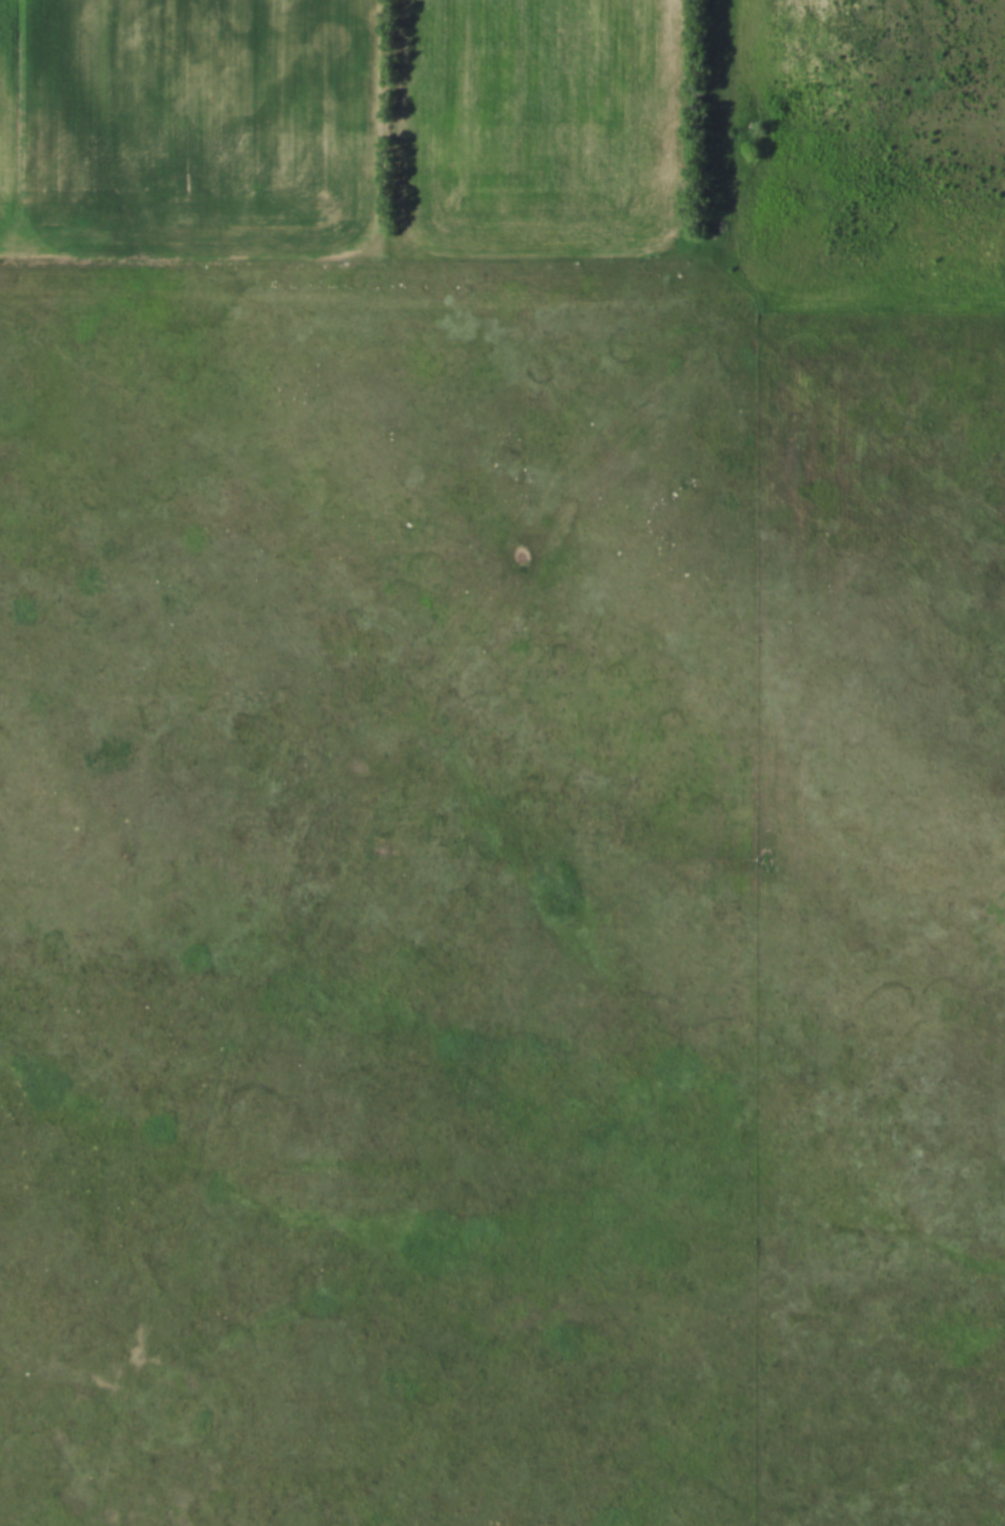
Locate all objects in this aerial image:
road: (718, 129)

